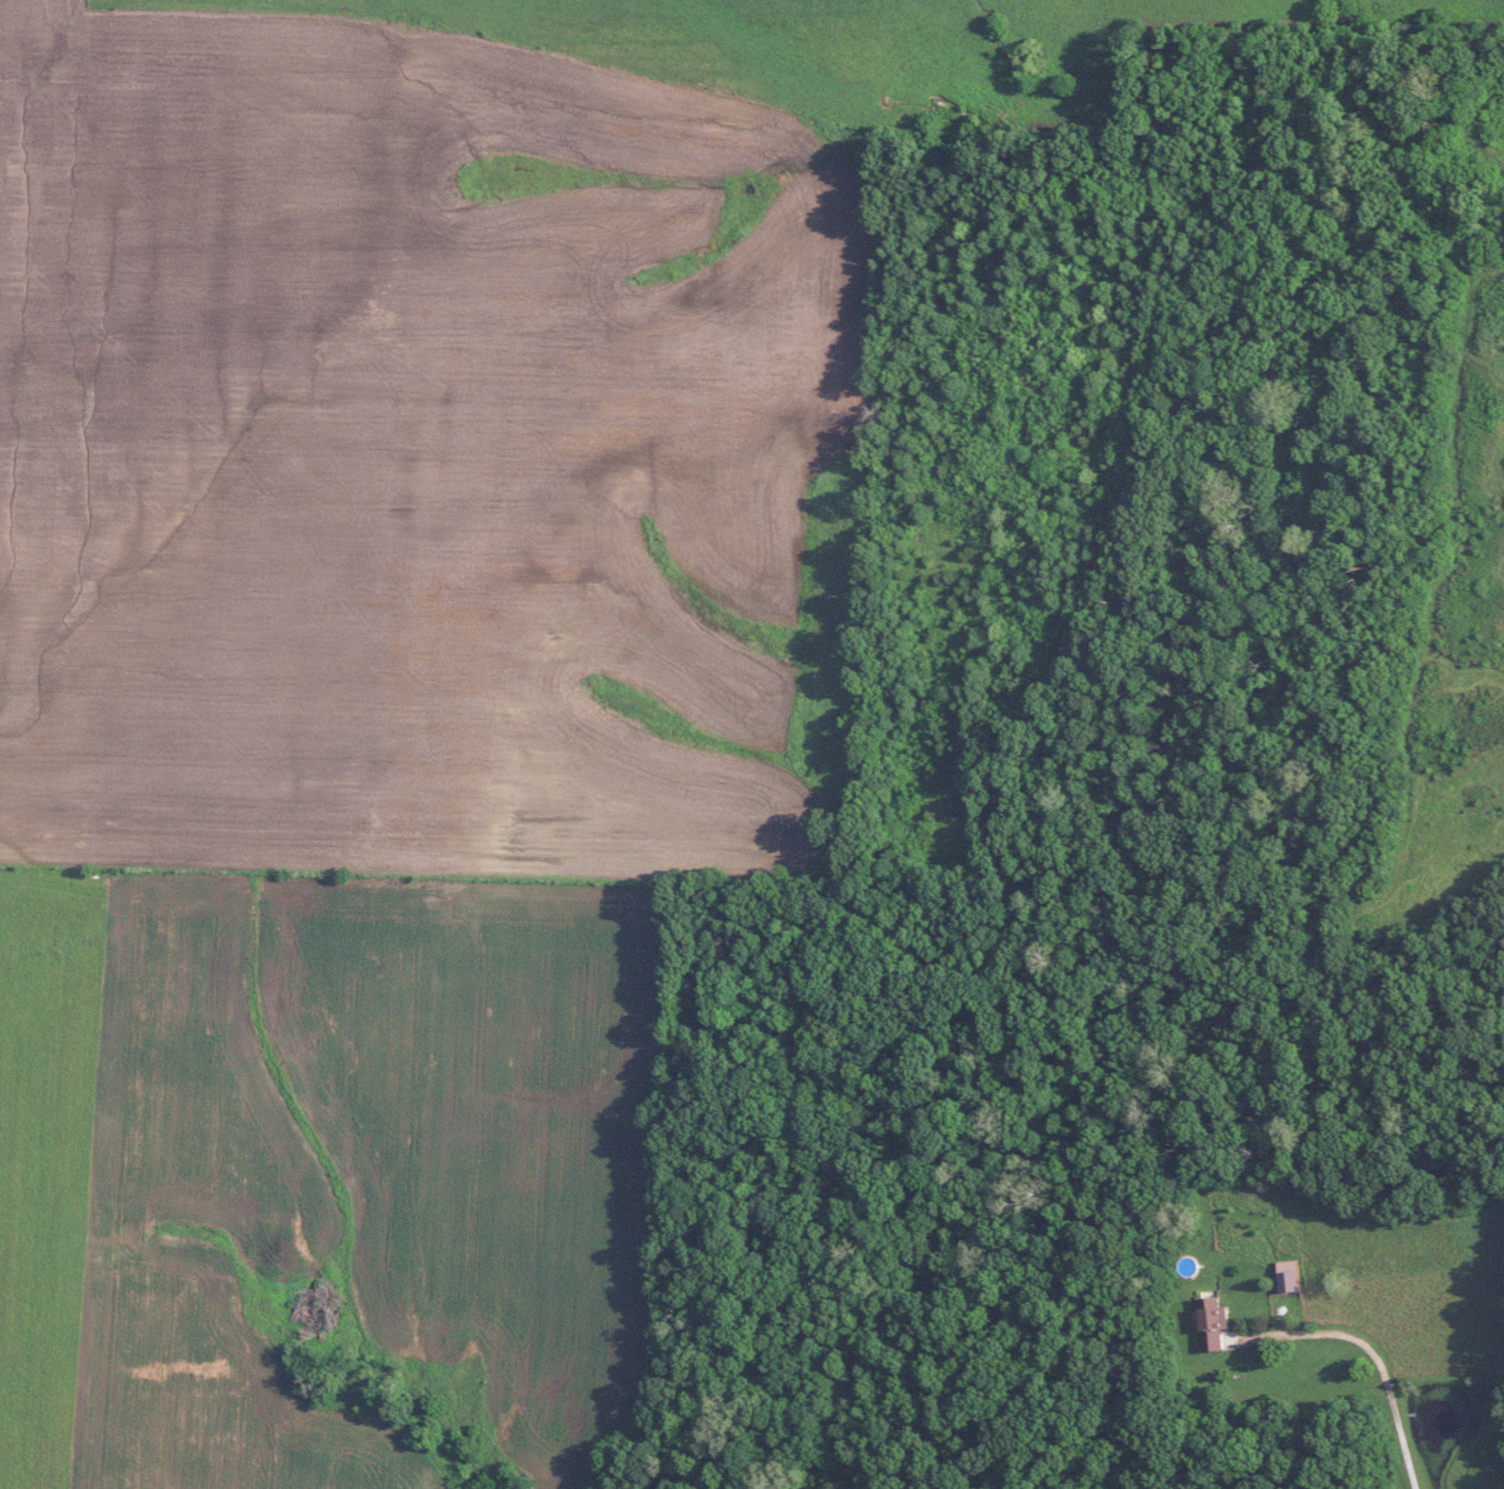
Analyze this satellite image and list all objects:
building: (1284, 1276)
building: (1208, 1323)
road: (1370, 1349)

